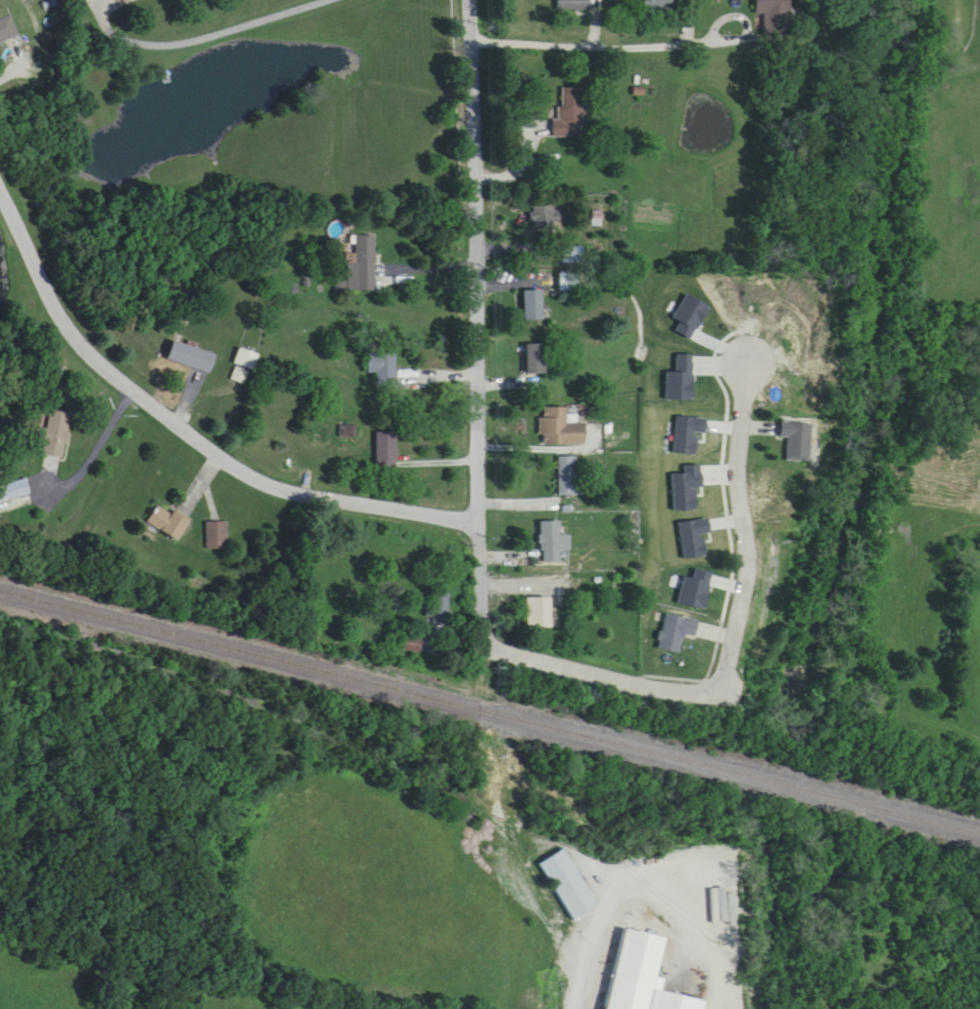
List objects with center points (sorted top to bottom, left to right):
building: (574, 5)
building: (659, 7)
building: (772, 7)
building: (7, 27)
road: (198, 39)
road: (610, 52)
road: (39, 53)
building: (570, 114)
building: (546, 219)
building: (574, 256)
building: (364, 264)
building: (534, 307)
road: (480, 323)
building: (193, 356)
building: (247, 361)
building: (536, 361)
building: (383, 369)
building: (561, 428)
road: (191, 434)
building: (57, 436)
building: (796, 441)
building: (387, 449)
road: (540, 449)
road: (96, 453)
building: (568, 476)
building: (14, 492)
building: (170, 523)
building: (218, 536)
building: (553, 542)
building: (539, 610)
building: (438, 614)
building: (675, 632)
building: (413, 641)
road: (732, 647)
railway: (490, 698)
building: (570, 886)
road: (642, 892)
building: (640, 973)

